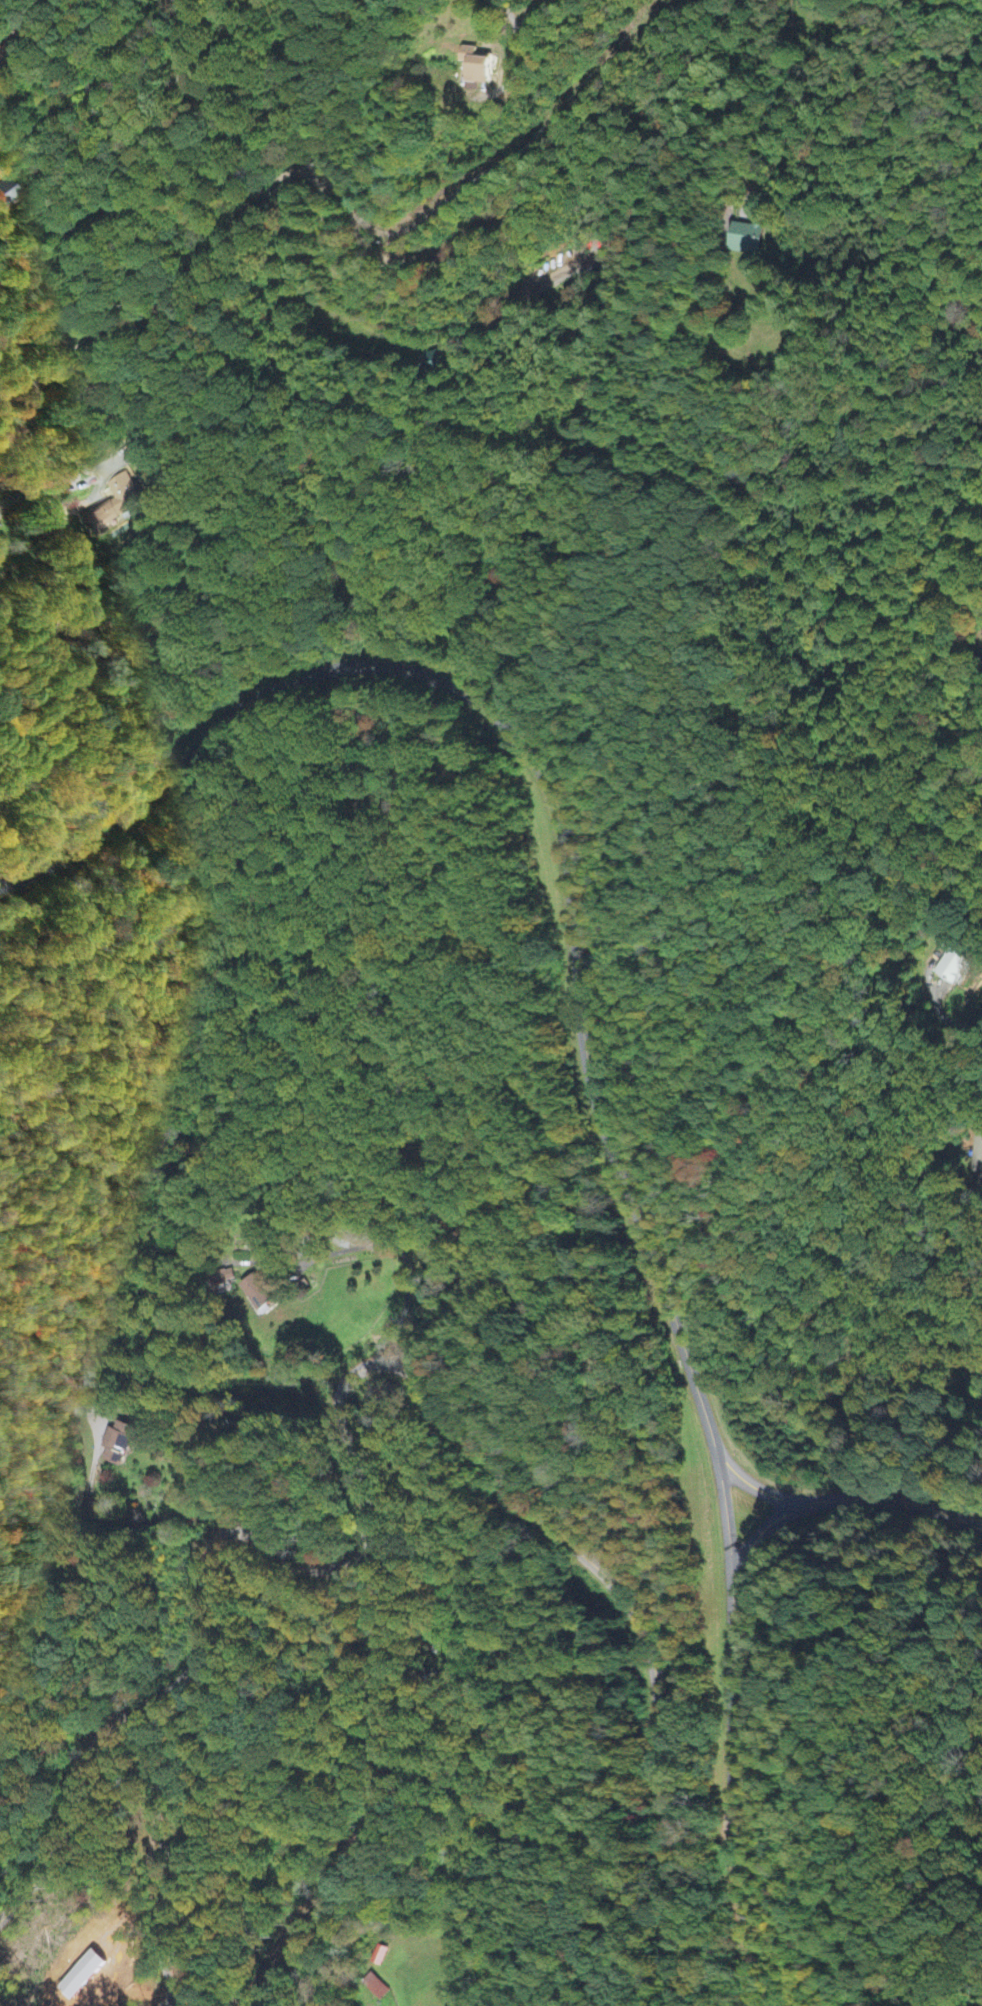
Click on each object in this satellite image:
road: (804, 14)
building: (474, 68)
road: (130, 166)
road: (338, 196)
building: (748, 239)
road: (408, 325)
road: (47, 485)
building: (111, 513)
road: (543, 782)
building: (953, 966)
road: (948, 1023)
building: (258, 1295)
road: (345, 1380)
road: (754, 1486)
road: (898, 1499)
road: (722, 1502)
road: (758, 1532)
road: (689, 1698)
road: (731, 1796)

